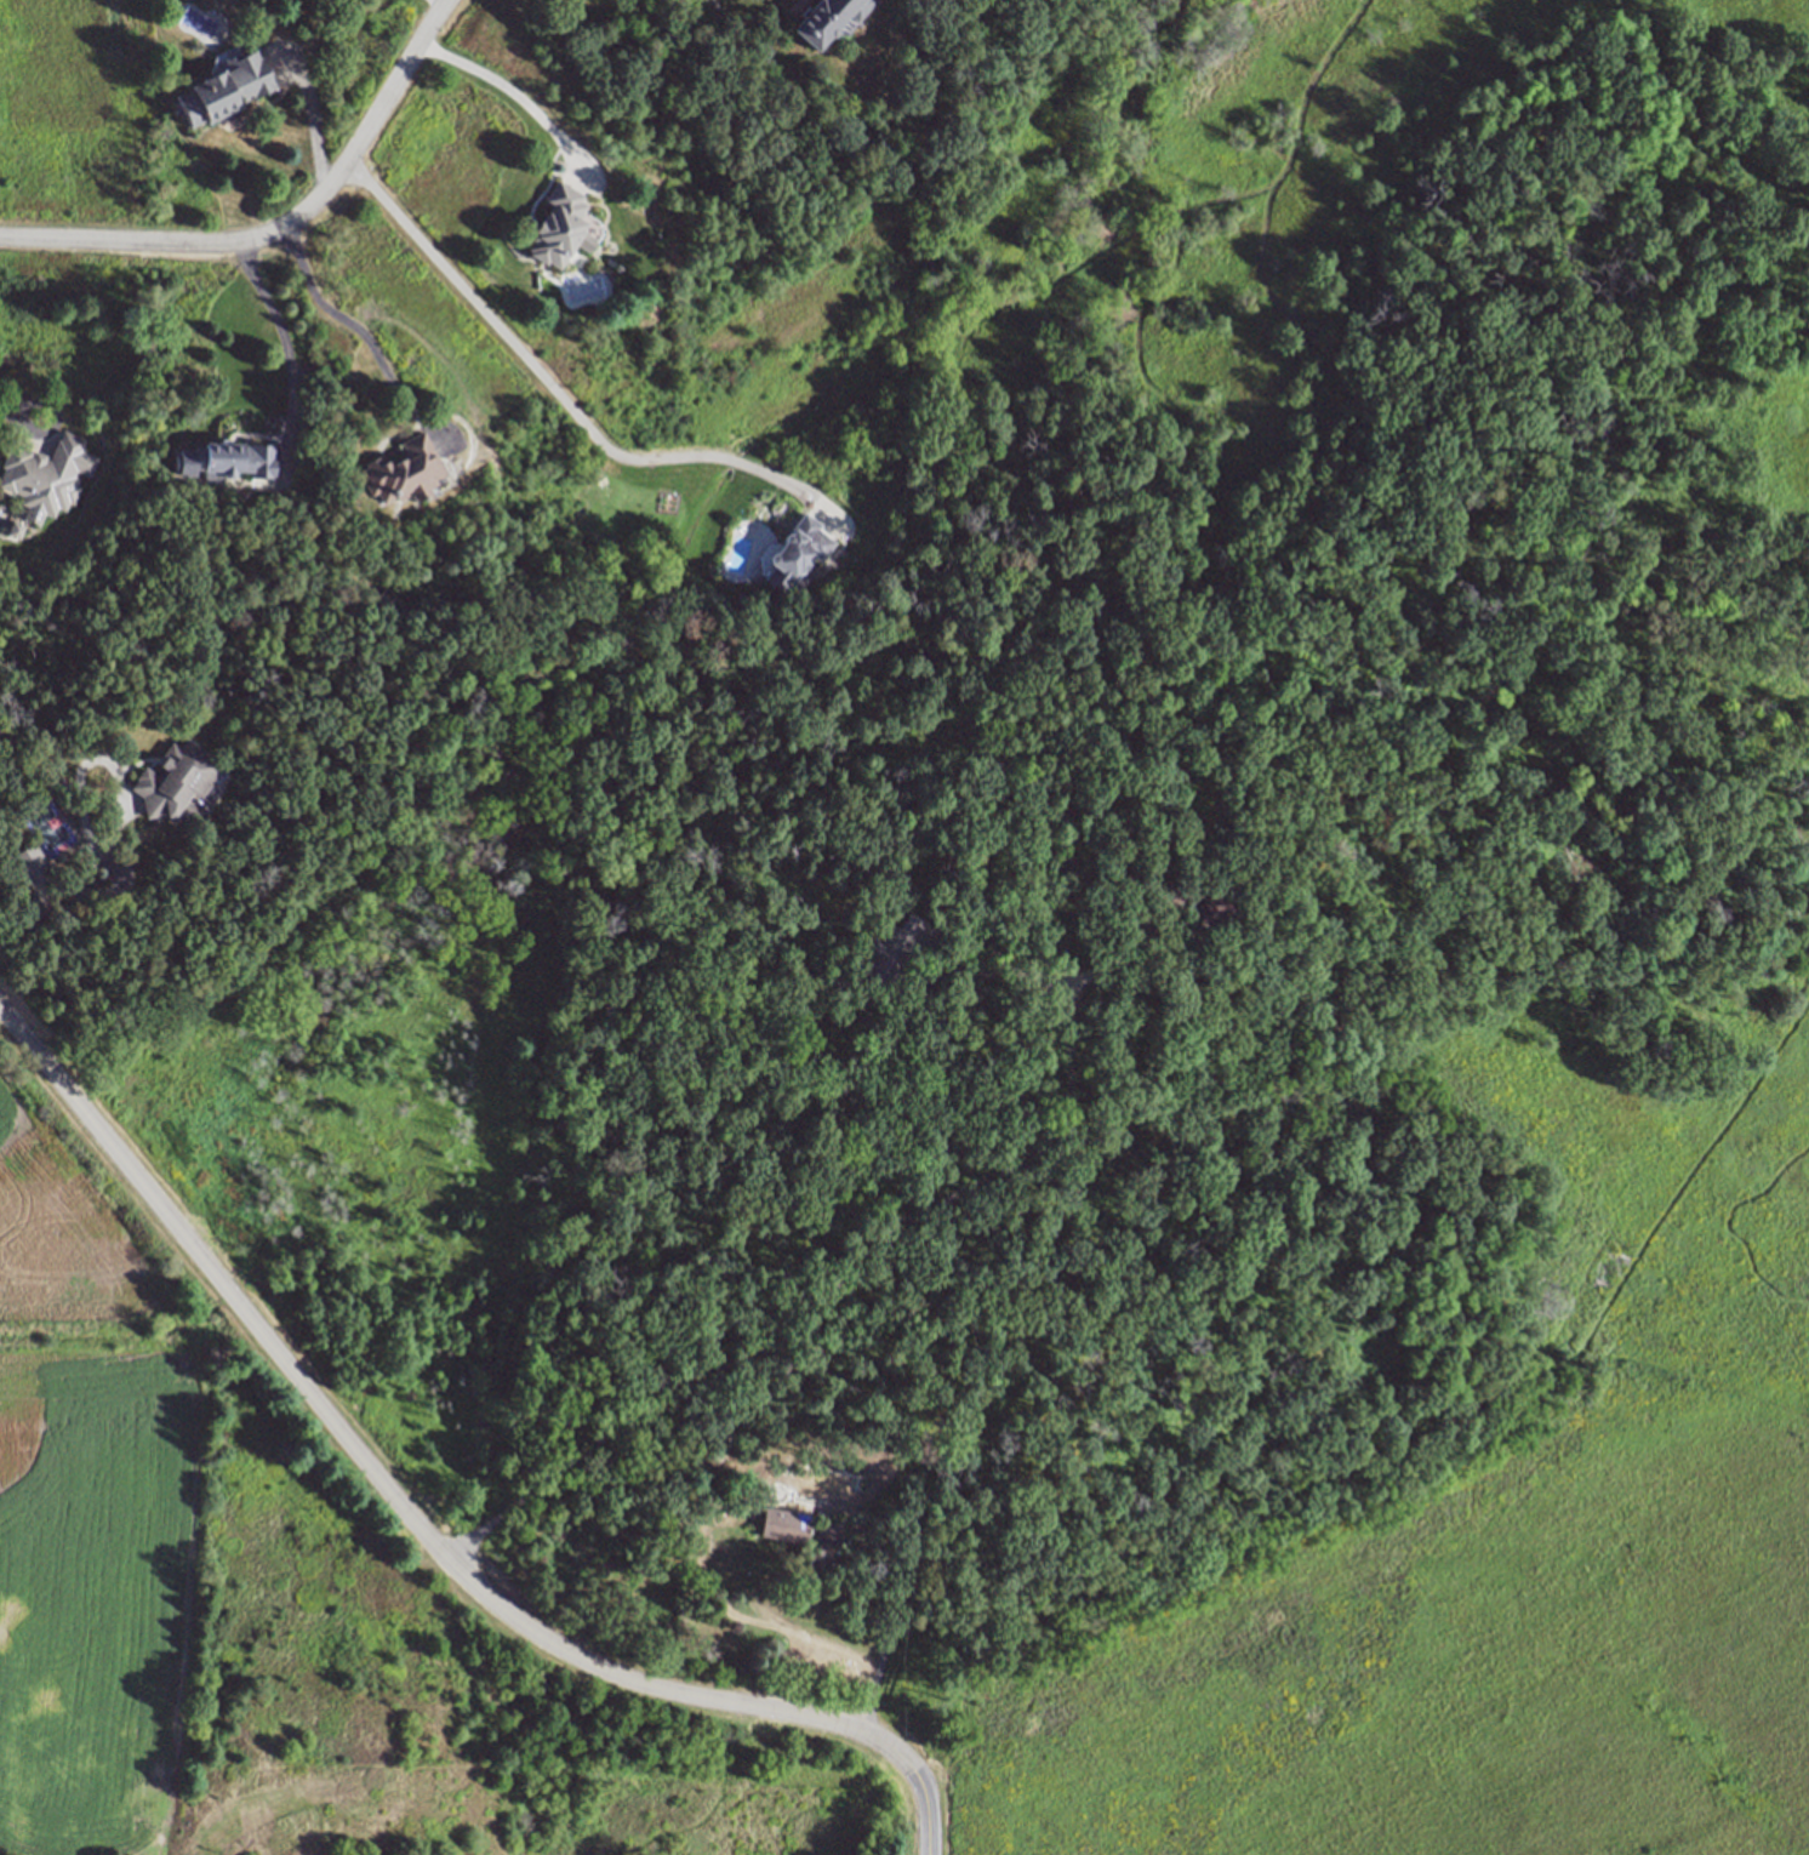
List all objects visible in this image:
building: (826, 18)
building: (224, 87)
road: (517, 96)
road: (315, 122)
road: (280, 227)
building: (559, 227)
road: (359, 331)
road: (287, 343)
road: (555, 394)
road: (46, 401)
road: (8, 411)
road: (1399, 412)
building: (236, 458)
building: (404, 472)
building: (40, 474)
building: (795, 552)
building: (219, 697)
building: (175, 781)
building: (29, 862)
road: (69, 883)
building: (1163, 897)
building: (1206, 912)
building: (888, 951)
road: (932, 961)
road: (1095, 976)
road: (811, 1300)
building: (726, 1437)
road: (413, 1523)
building: (784, 1523)
building: (829, 1535)
road: (892, 1631)

